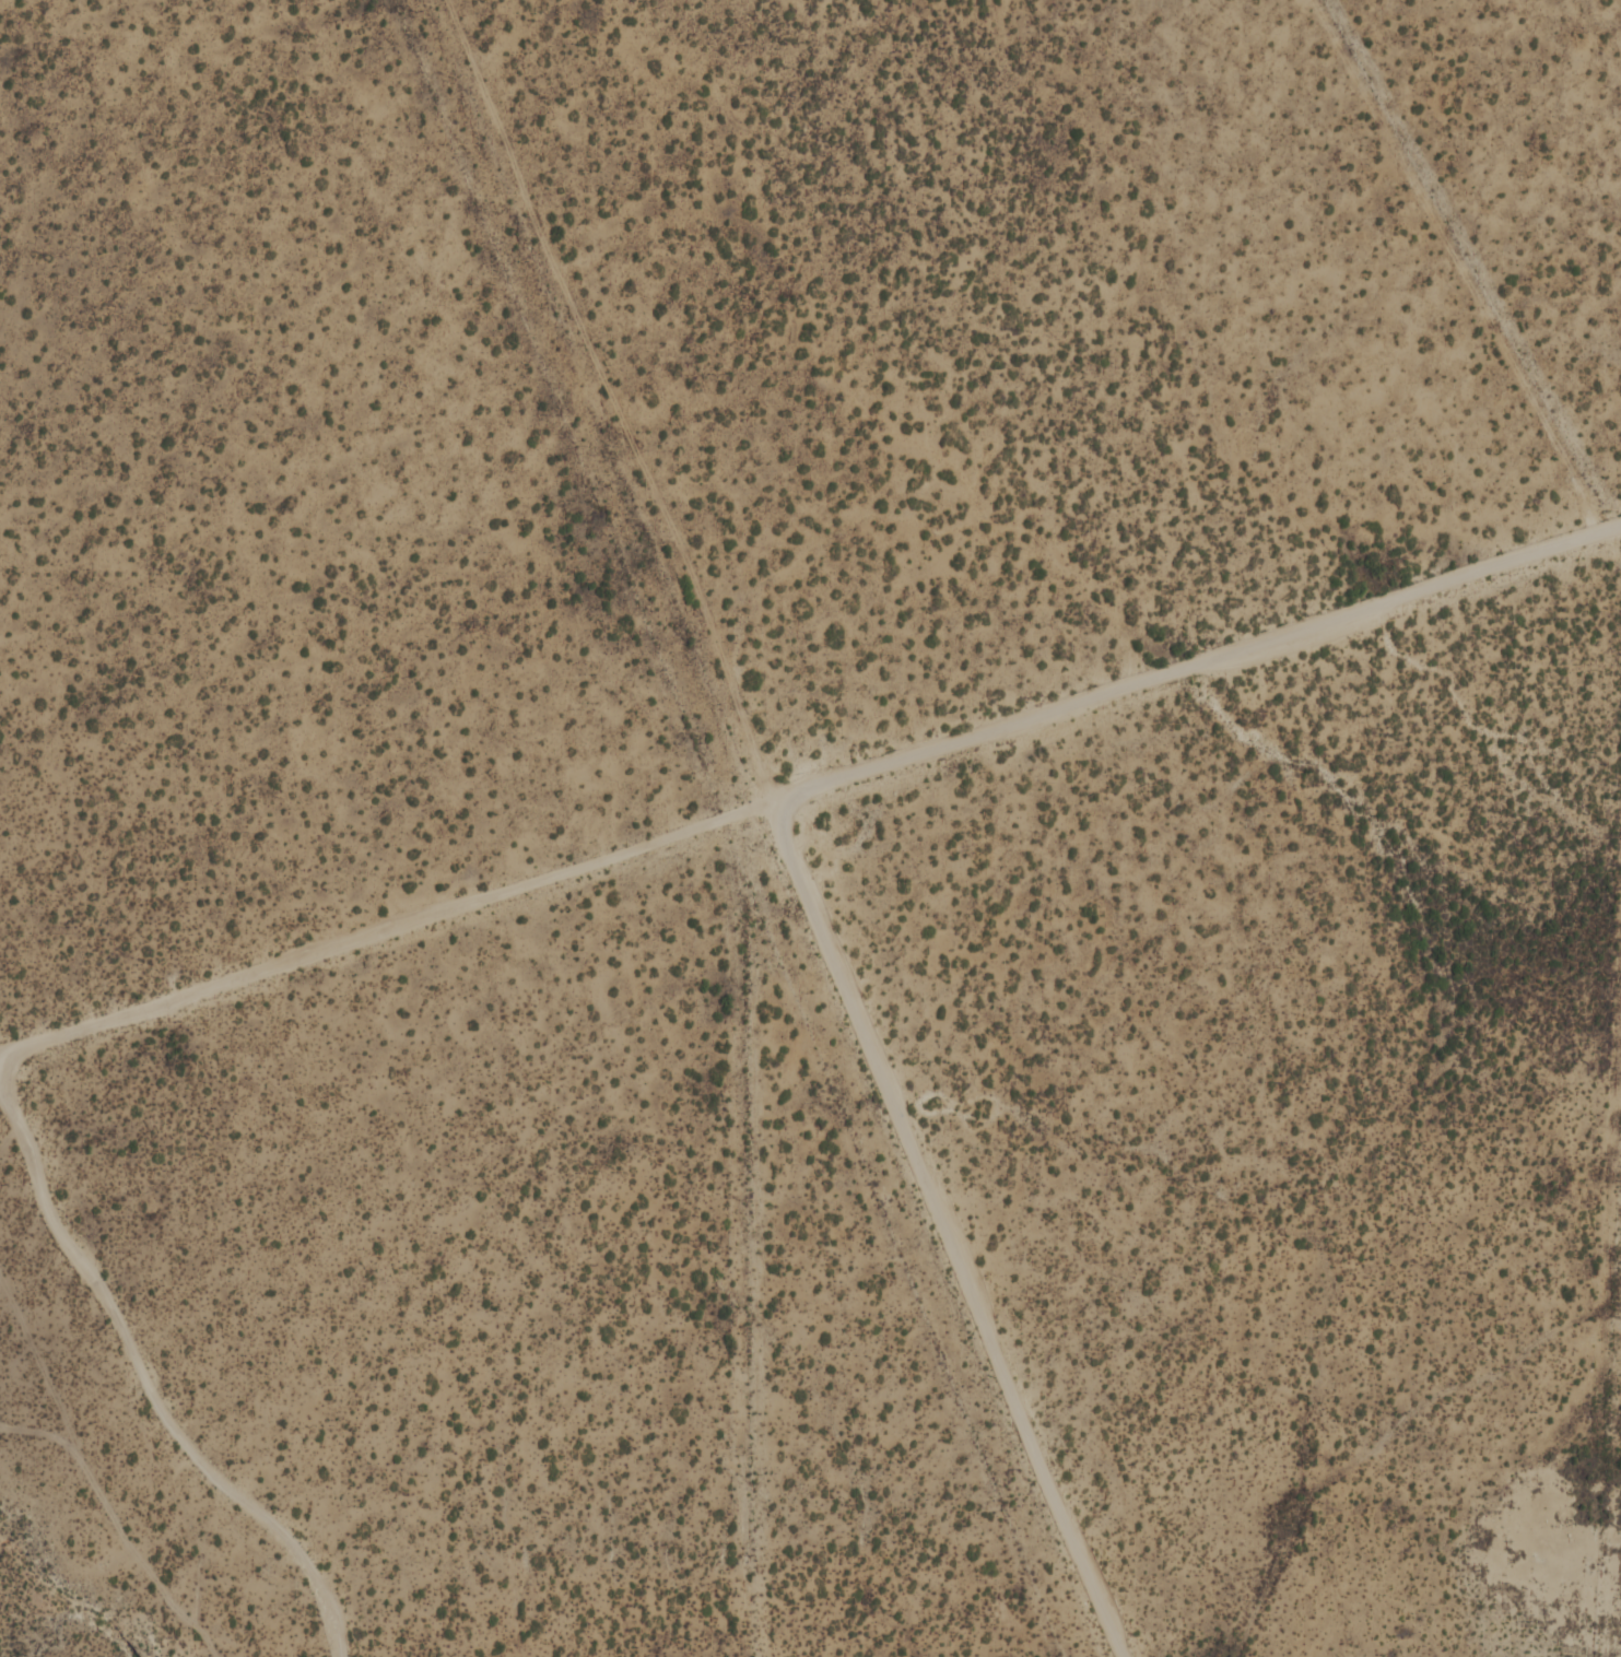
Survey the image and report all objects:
road: (1197, 663)
road: (783, 828)
road: (387, 931)
road: (148, 1379)
road: (118, 1524)

